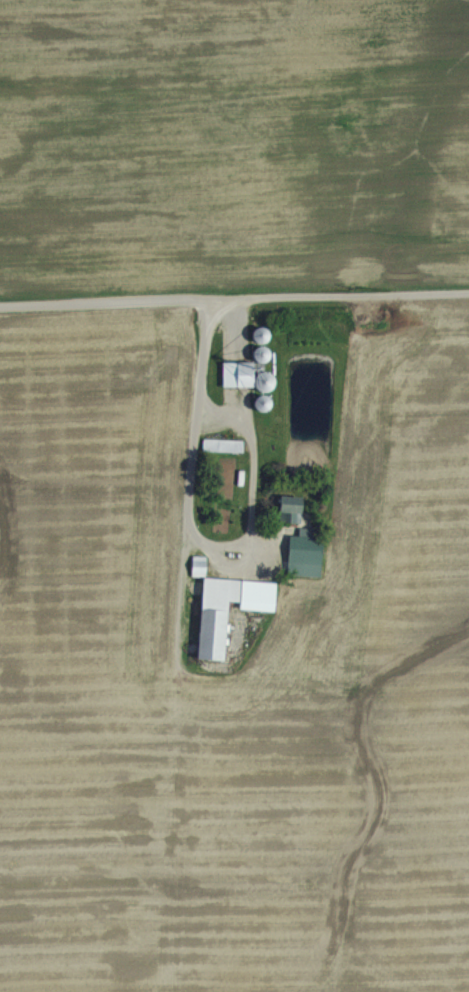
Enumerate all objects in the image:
road: (234, 296)
building: (241, 374)
building: (223, 445)
building: (292, 508)
road: (190, 524)
building: (307, 555)
building: (217, 608)

